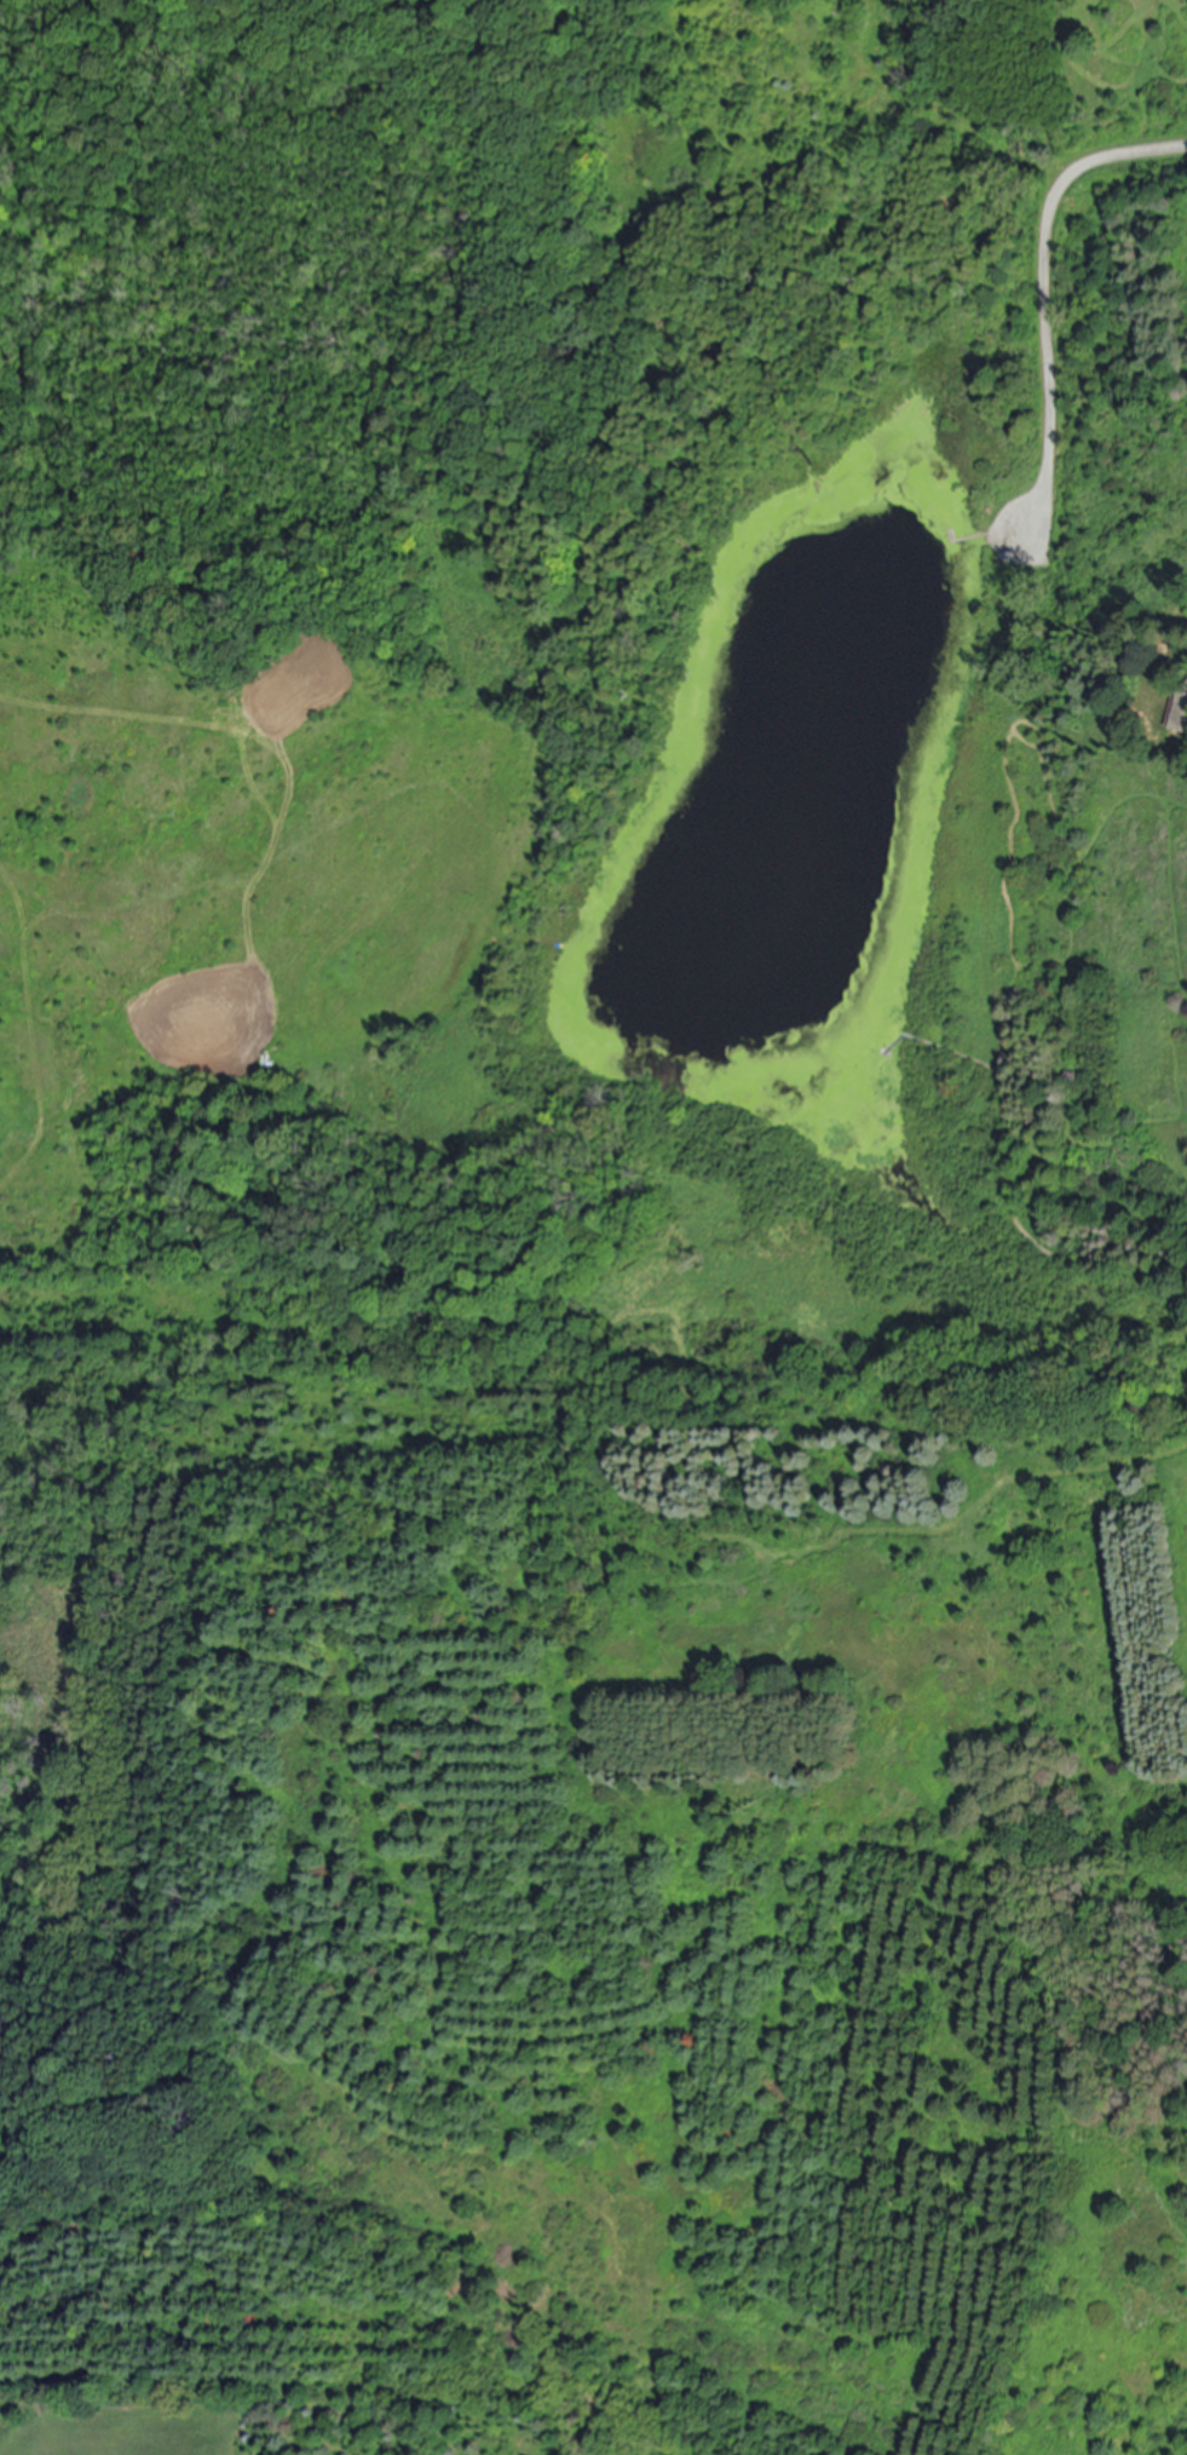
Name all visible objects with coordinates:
road: (1043, 291)
building: (1182, 712)

